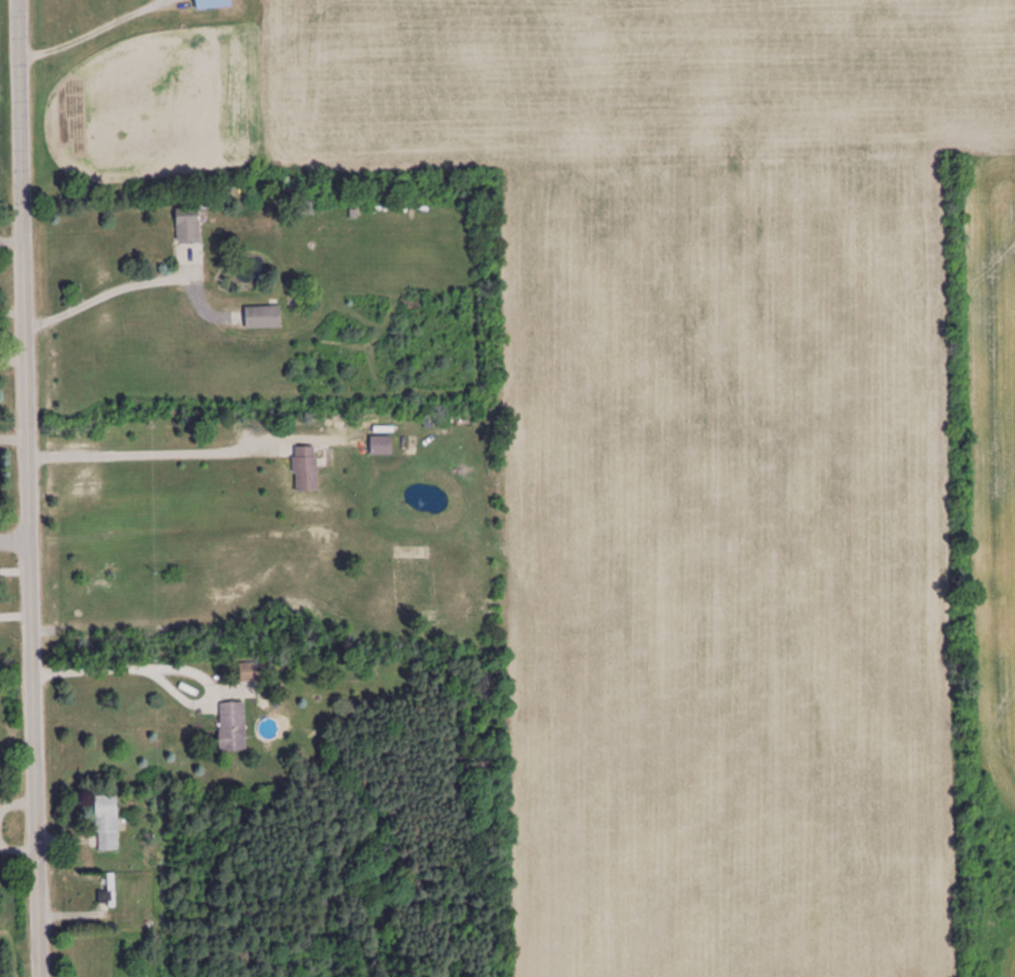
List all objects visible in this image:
building: (213, 4)
road: (15, 100)
building: (306, 208)
building: (188, 225)
building: (263, 318)
building: (381, 446)
building: (307, 470)
road: (12, 538)
road: (25, 589)
building: (250, 673)
building: (233, 728)
building: (107, 824)

